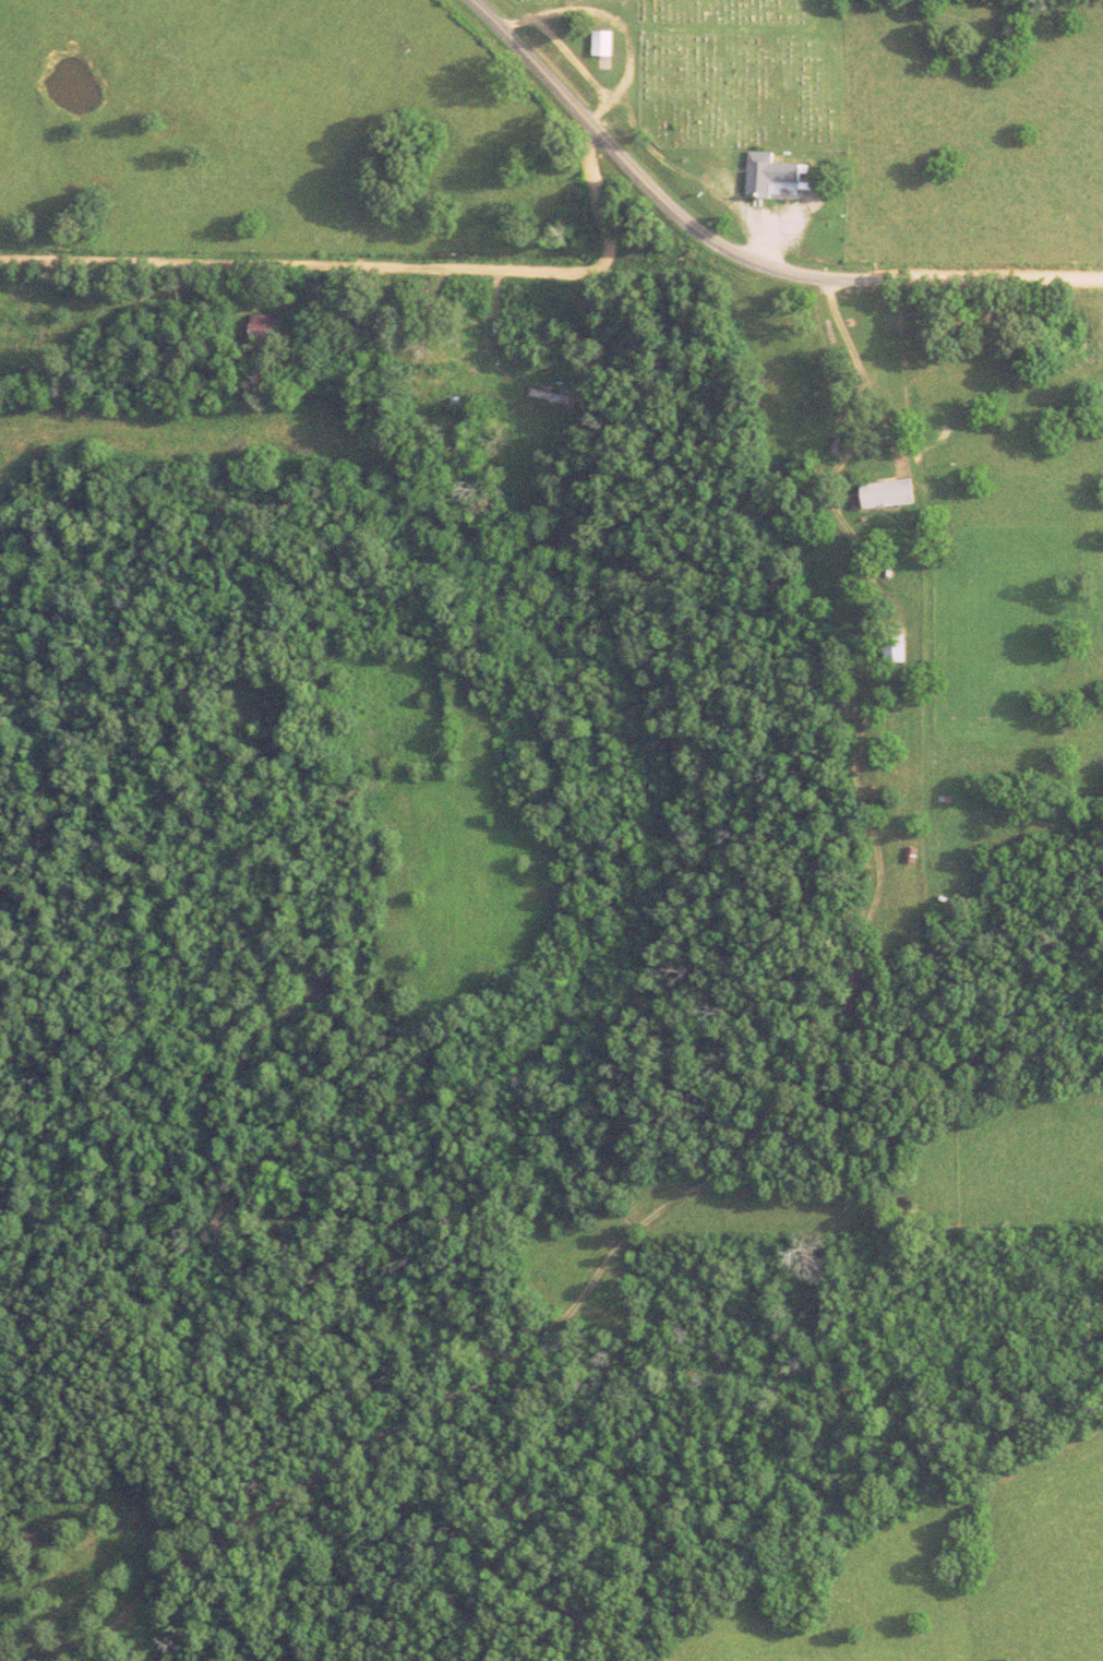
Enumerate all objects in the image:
building: (603, 46)
road: (530, 63)
building: (603, 67)
park: (736, 73)
building: (770, 179)
road: (371, 265)
road: (820, 276)
building: (451, 371)
building: (891, 495)

